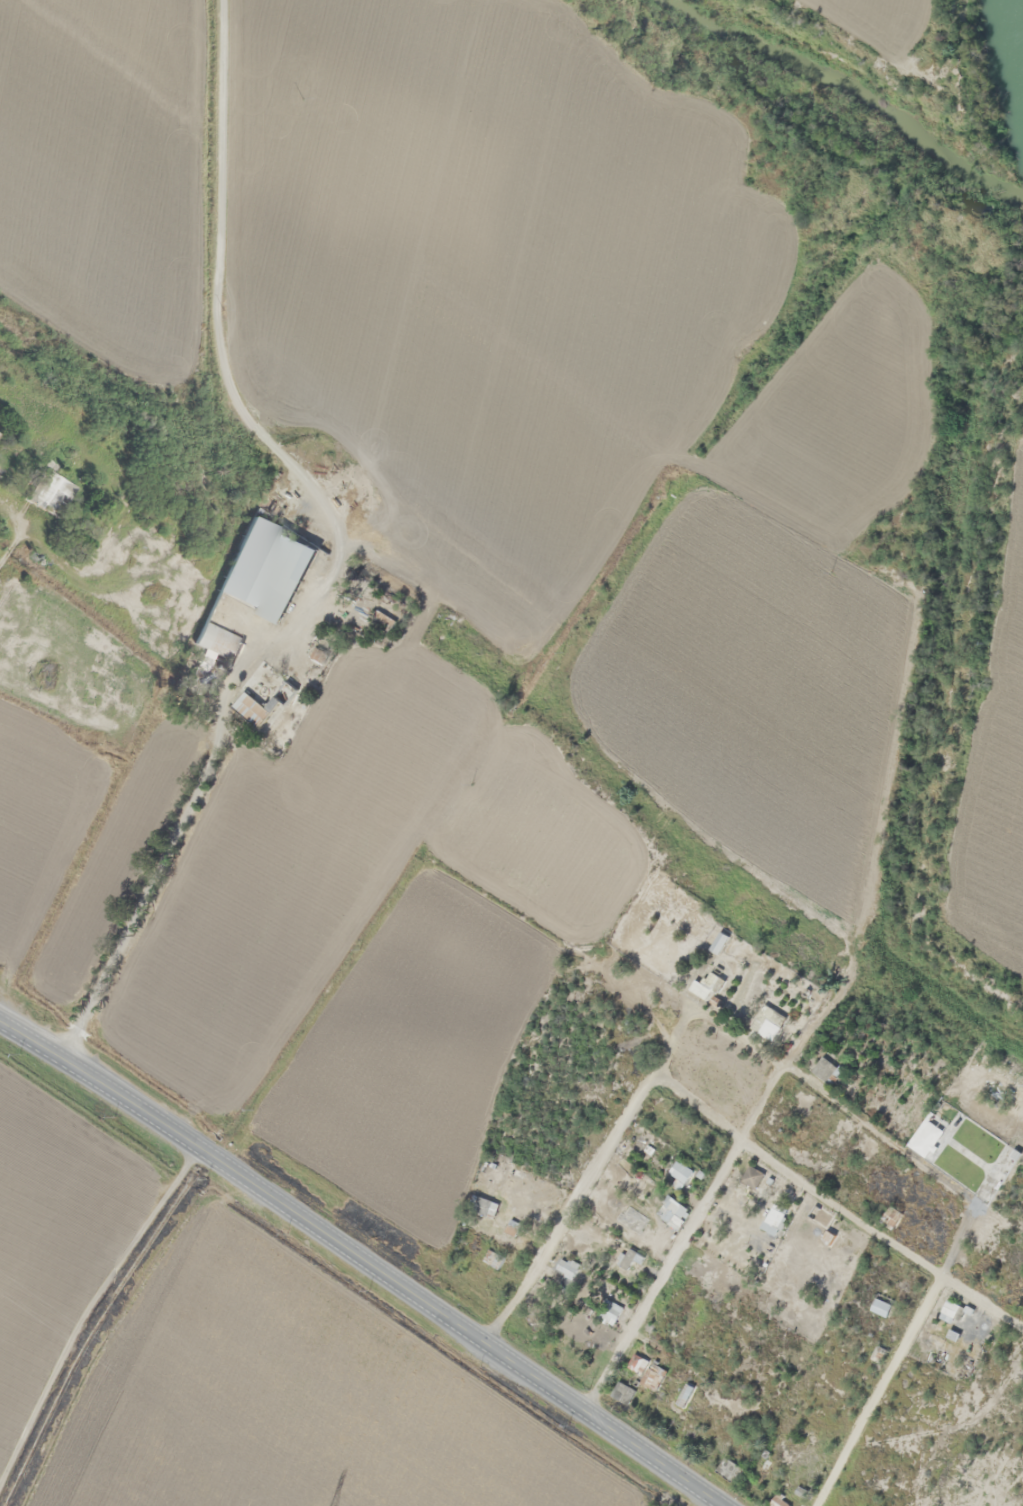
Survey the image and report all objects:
building: (726, 938)
building: (711, 981)
road: (831, 1198)
road: (368, 1256)

